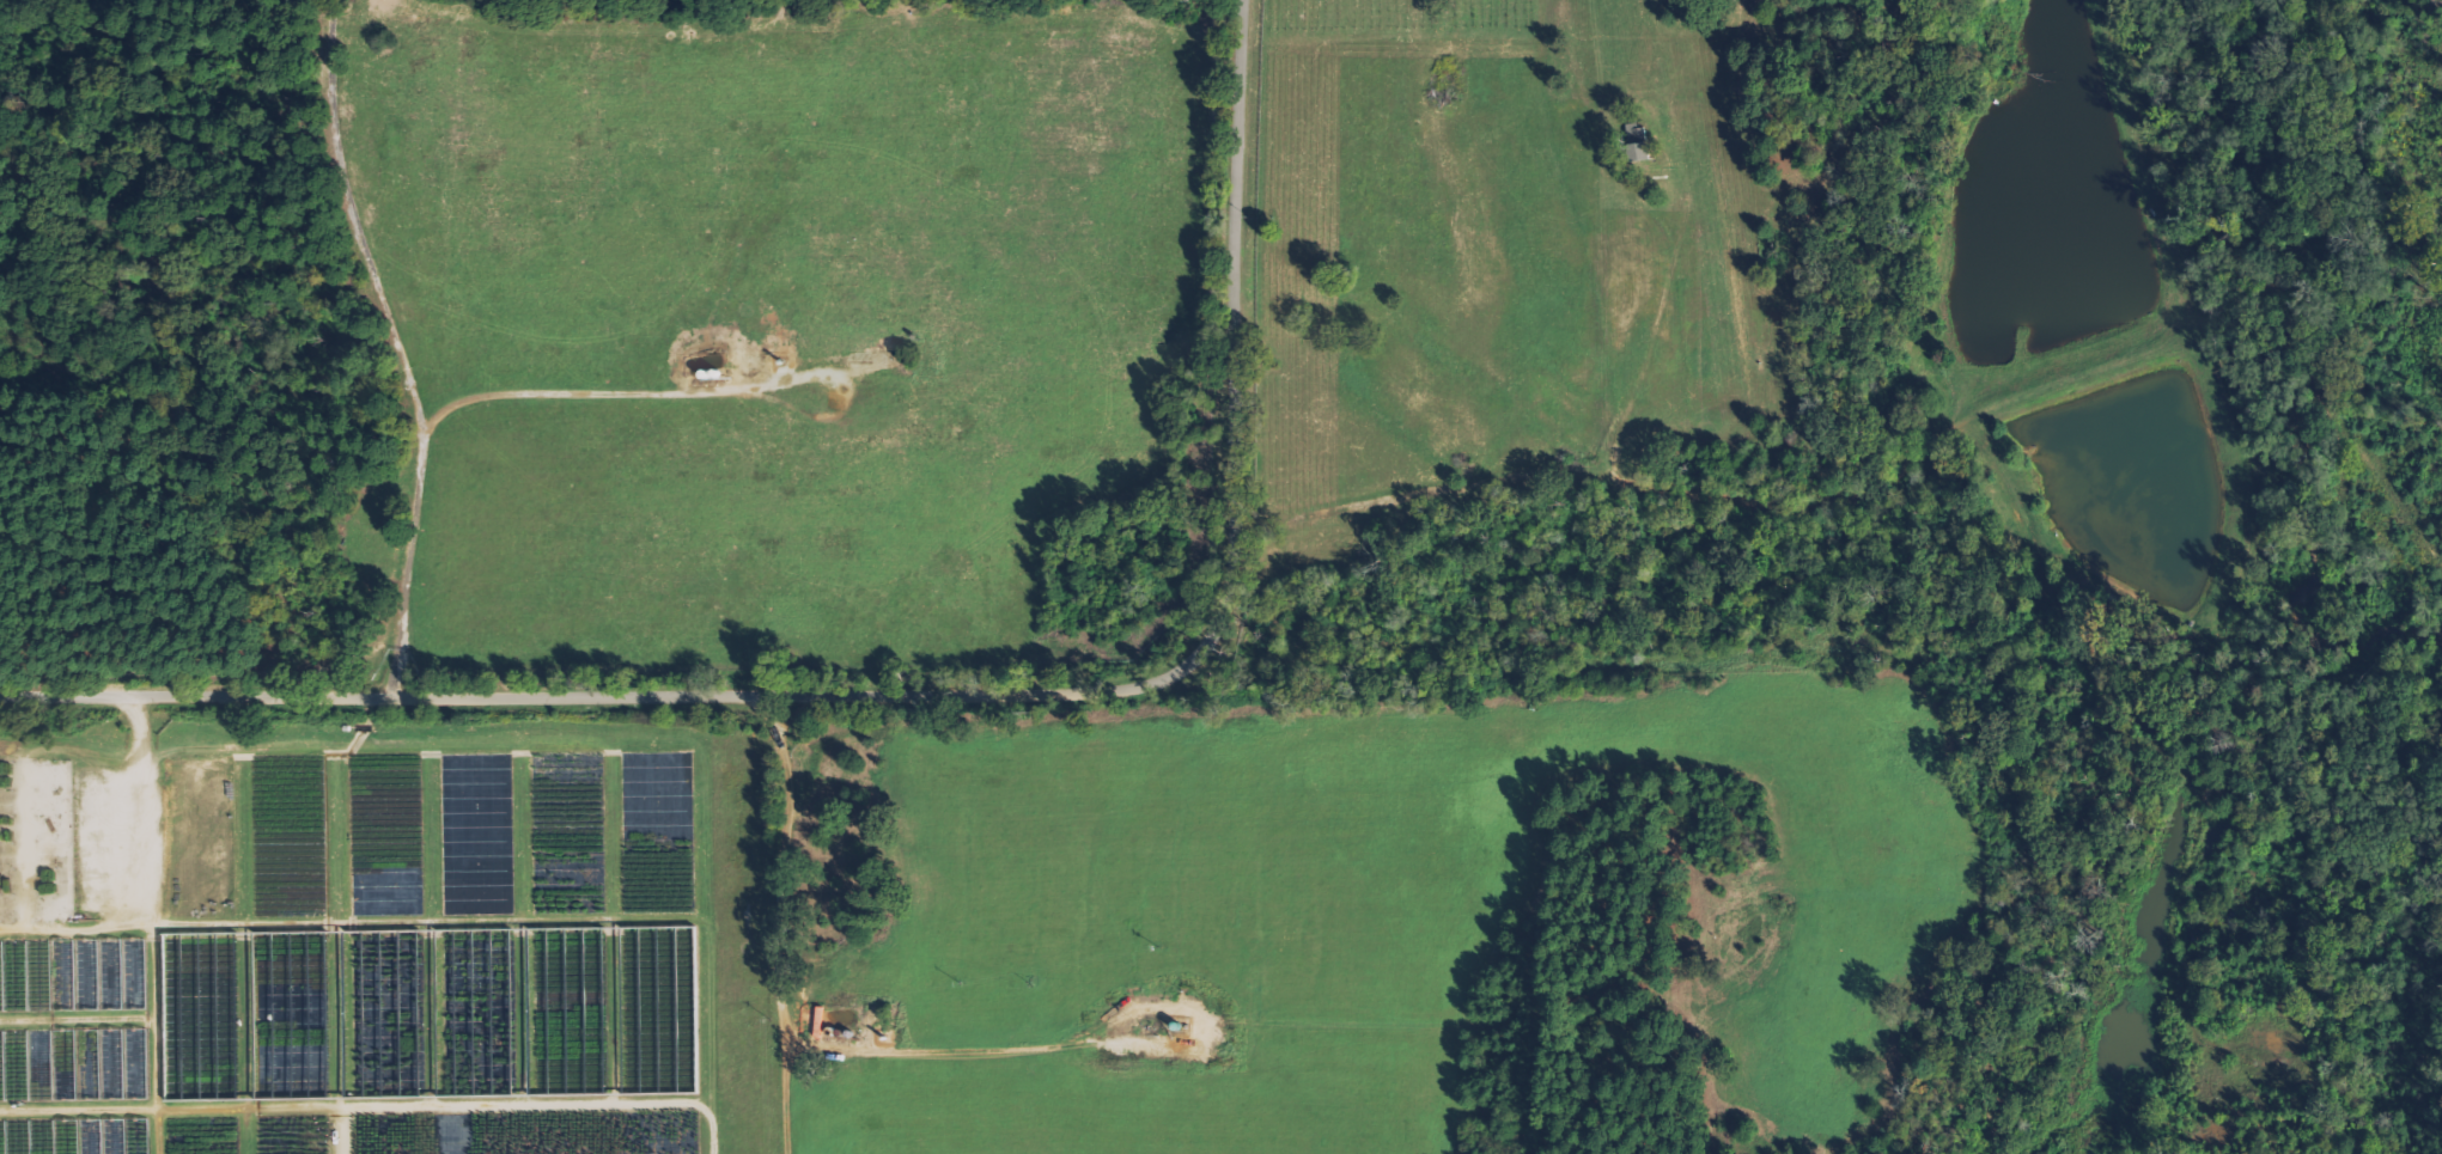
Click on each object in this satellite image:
building: (1639, 142)
road: (938, 694)

